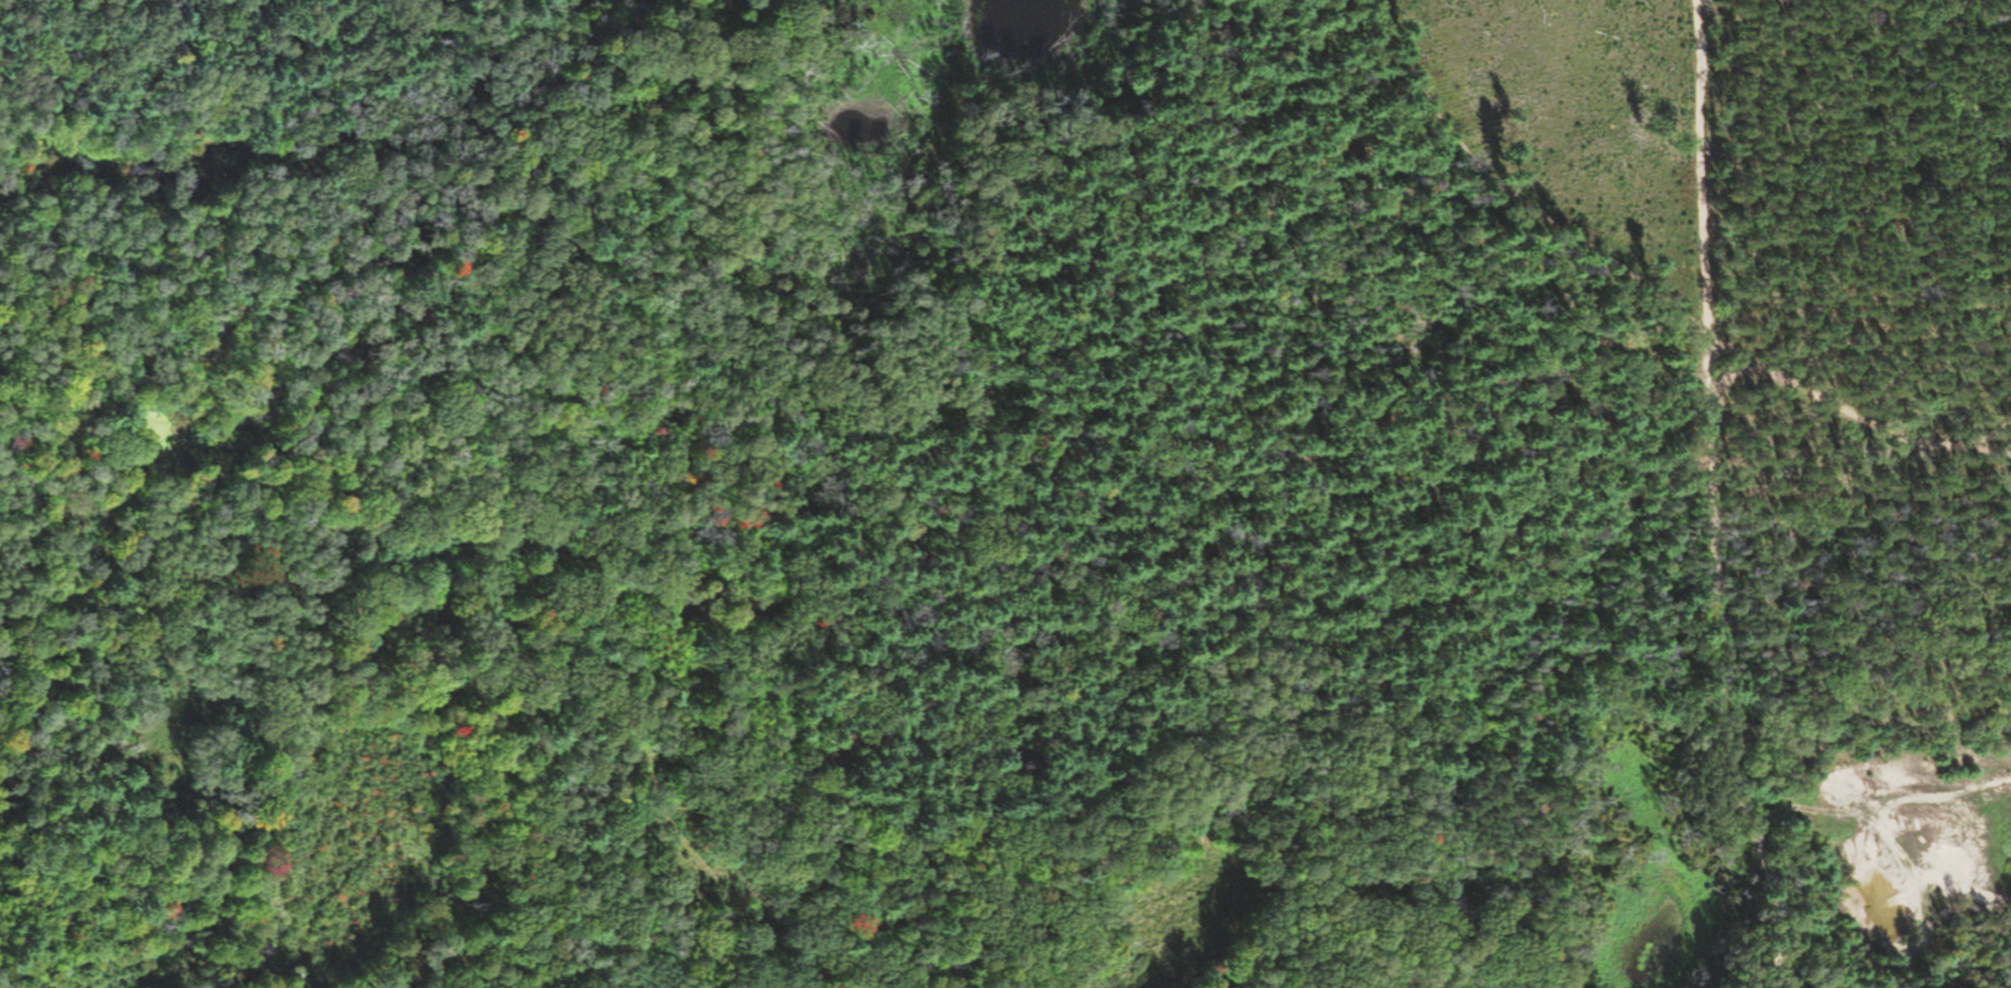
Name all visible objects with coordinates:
road: (1648, 280)
road: (1715, 493)

